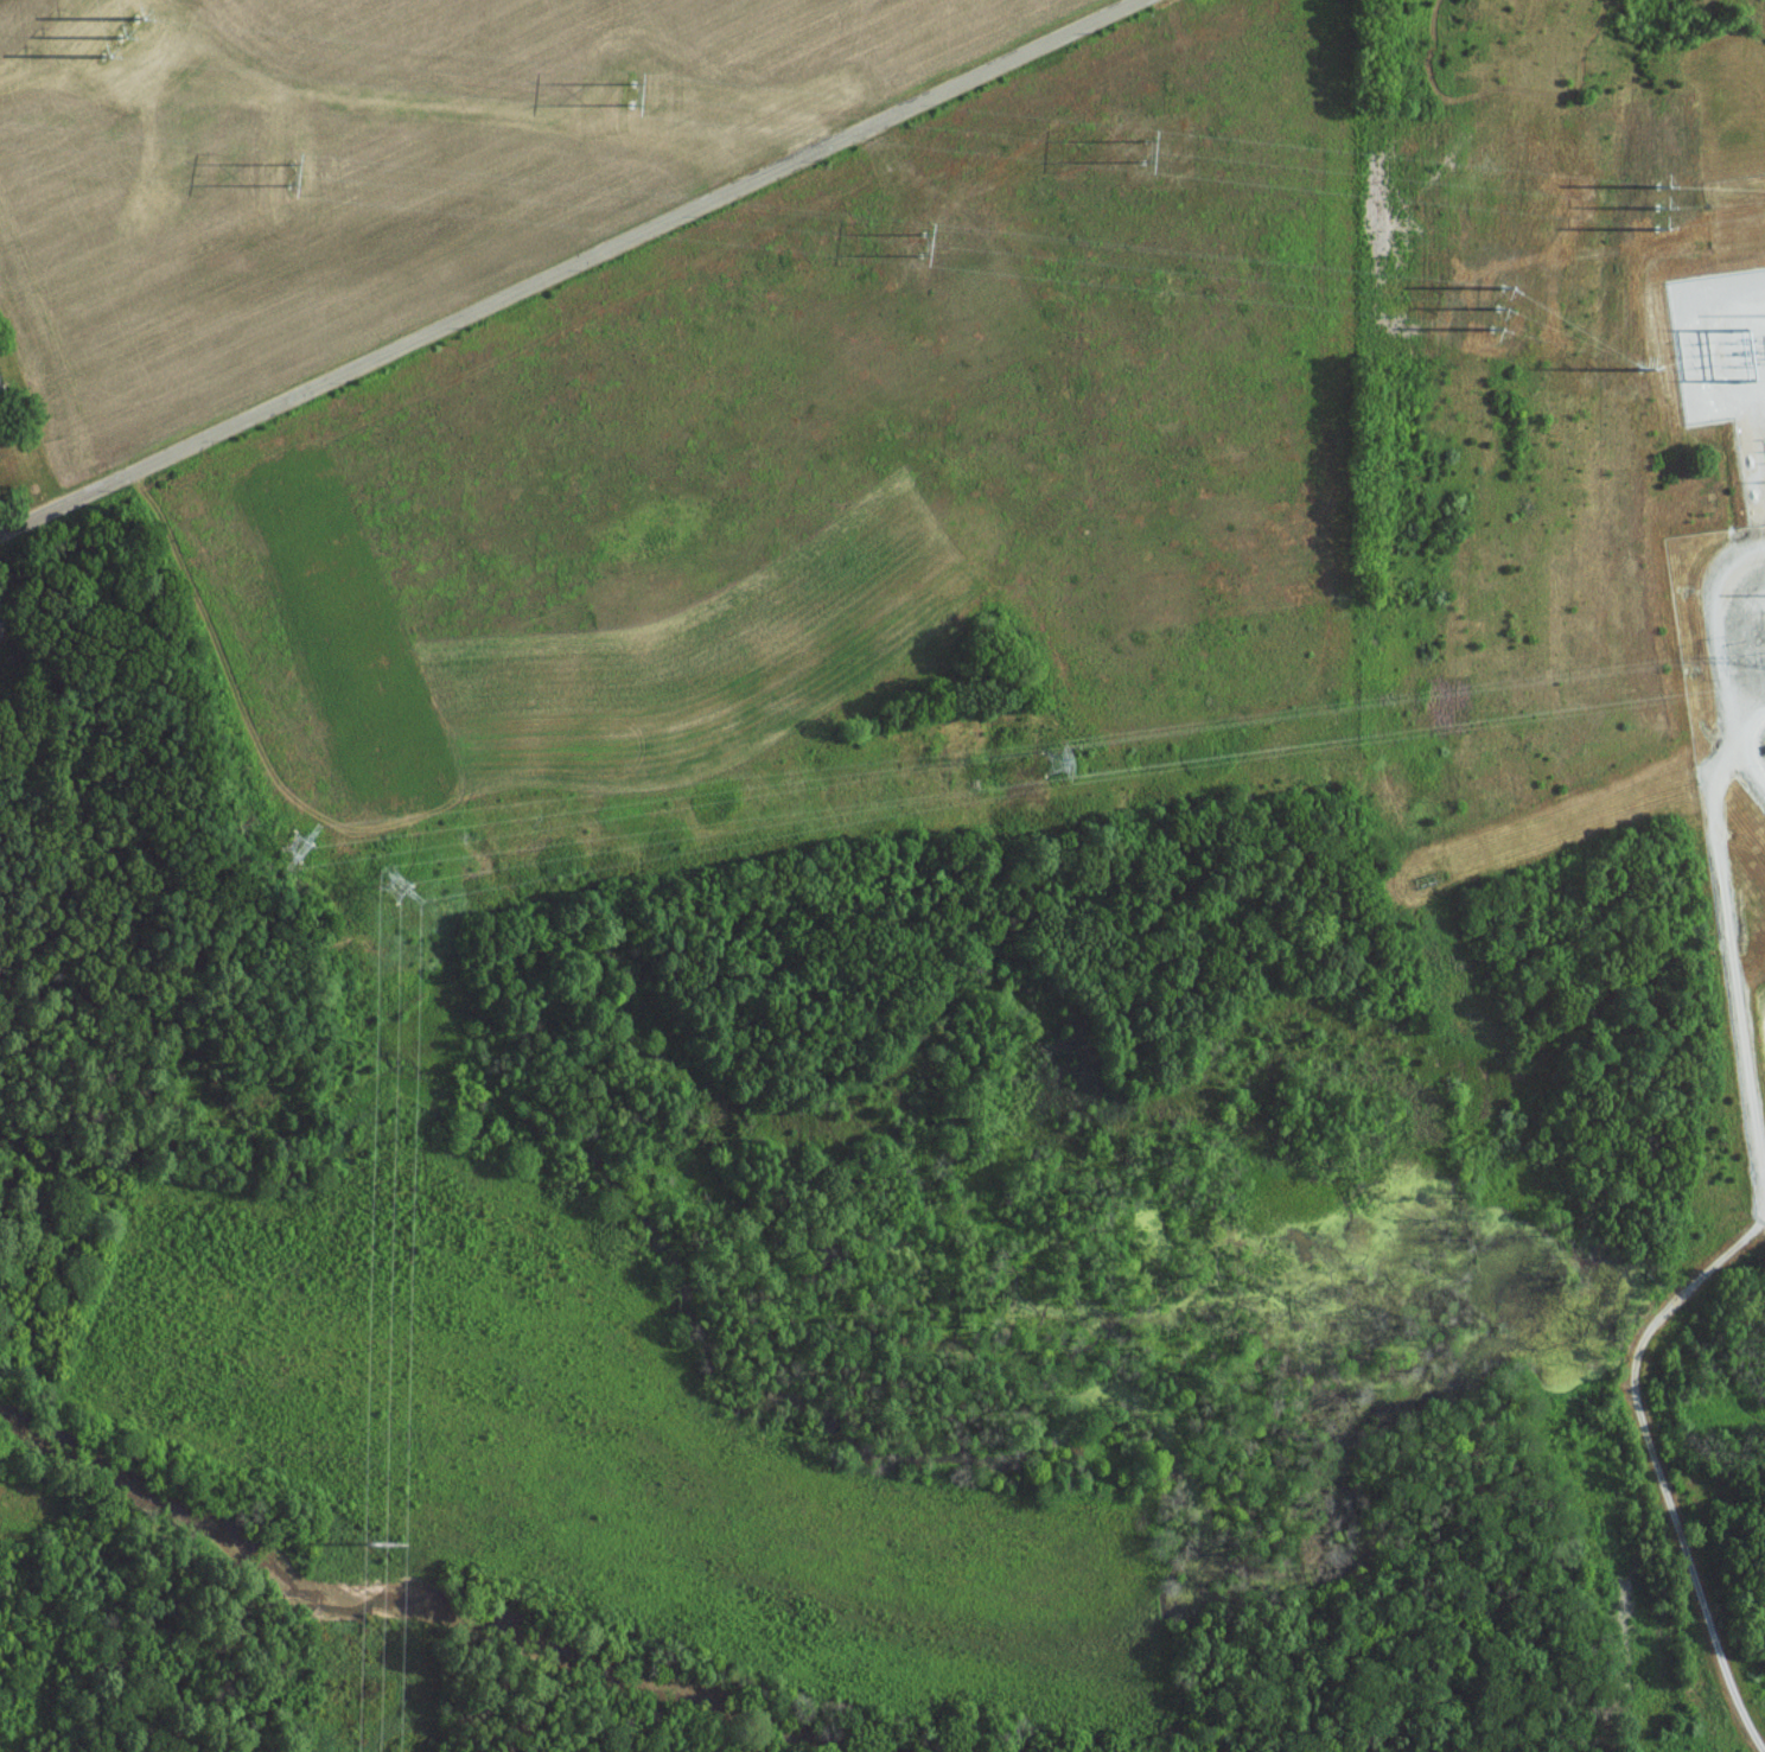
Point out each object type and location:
power tower: (109, 39)
power tower: (631, 96)
power tower: (1145, 152)
power tower: (294, 170)
power tower: (1655, 206)
power tower: (924, 241)
road: (563, 265)
power tower: (1499, 311)
power tower: (1701, 362)
power substation: (1725, 363)
power tower: (1639, 369)
road: (1, 524)
power tower: (1058, 762)
power tower: (288, 847)
power tower: (400, 891)
power tower: (386, 1547)

